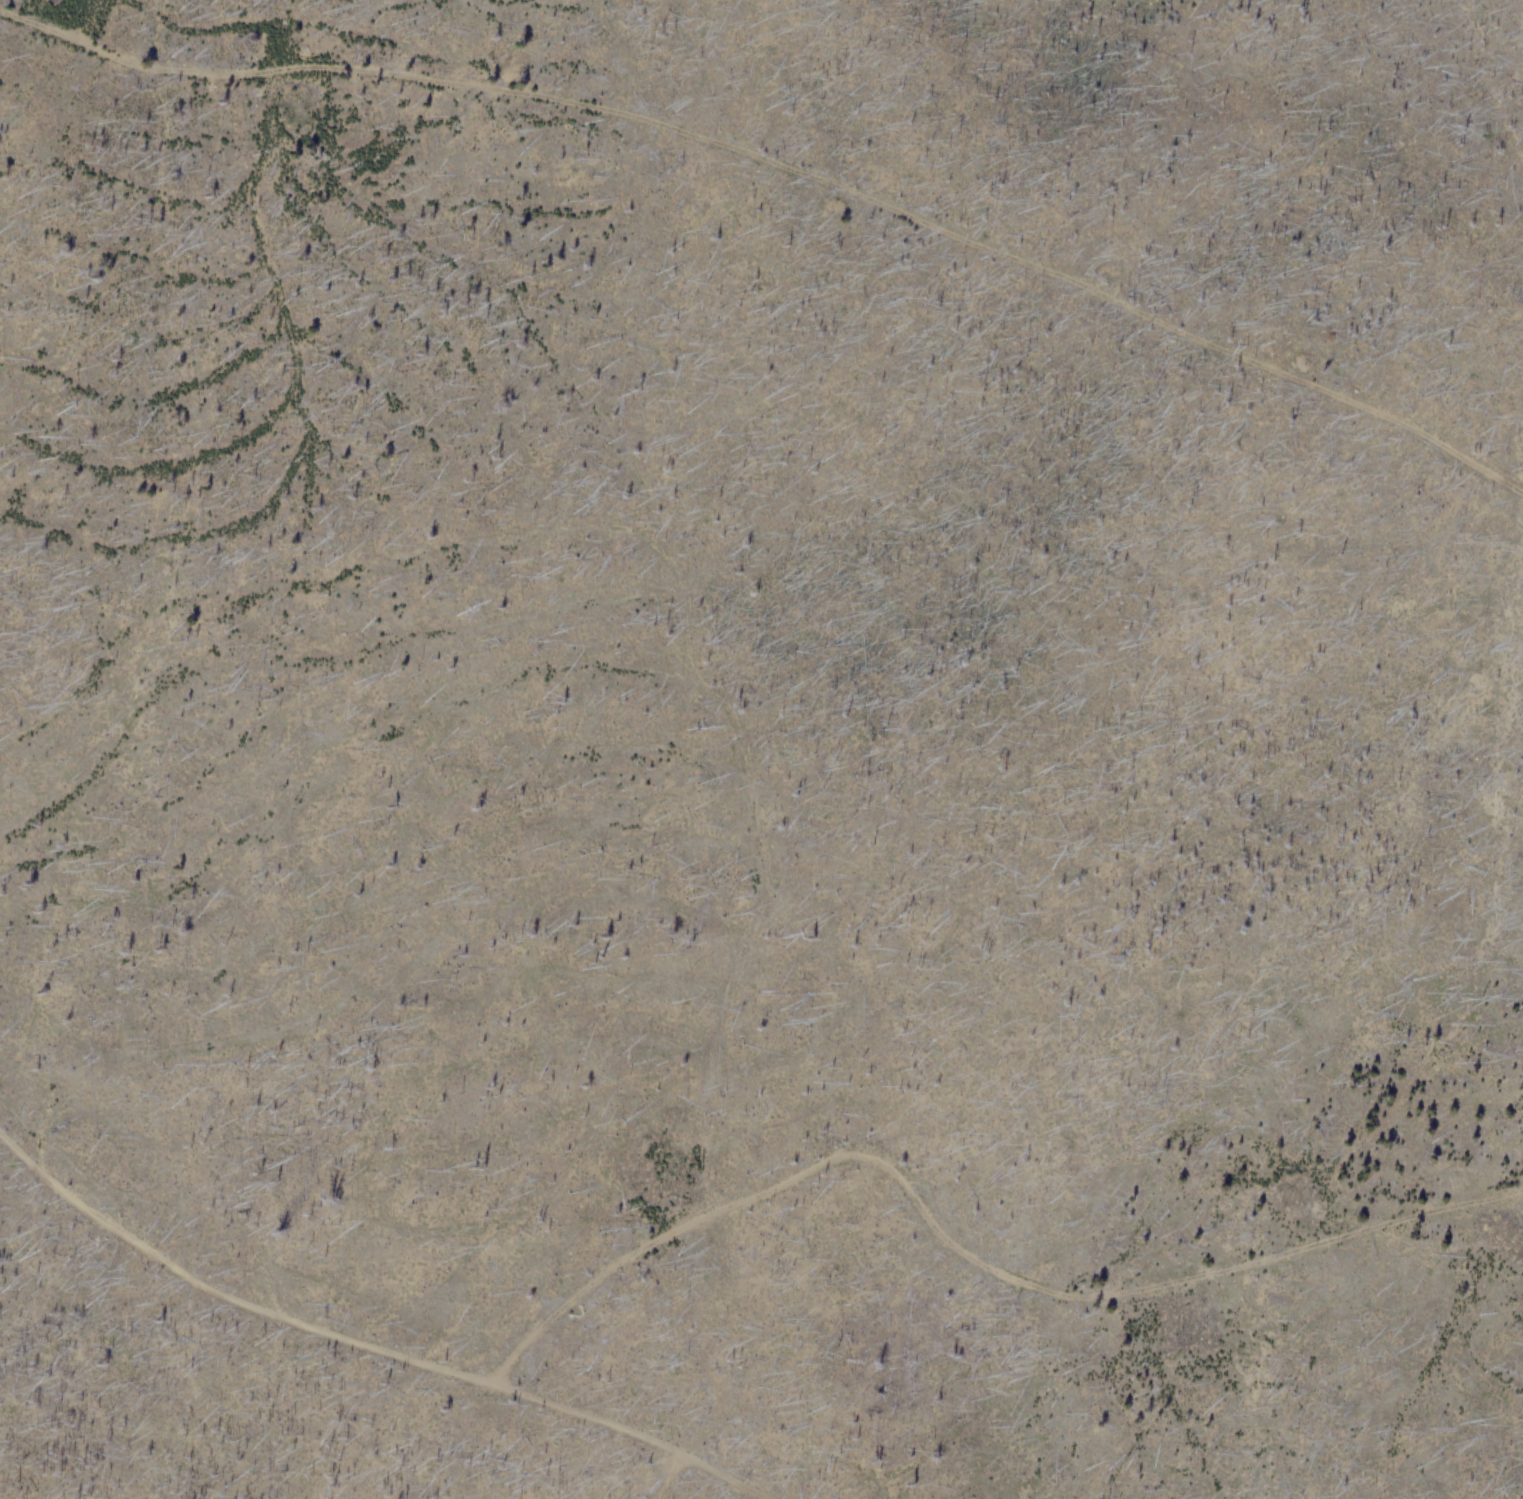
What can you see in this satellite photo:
road: (785, 163)
road: (958, 1252)
road: (365, 1342)
road: (658, 1472)

